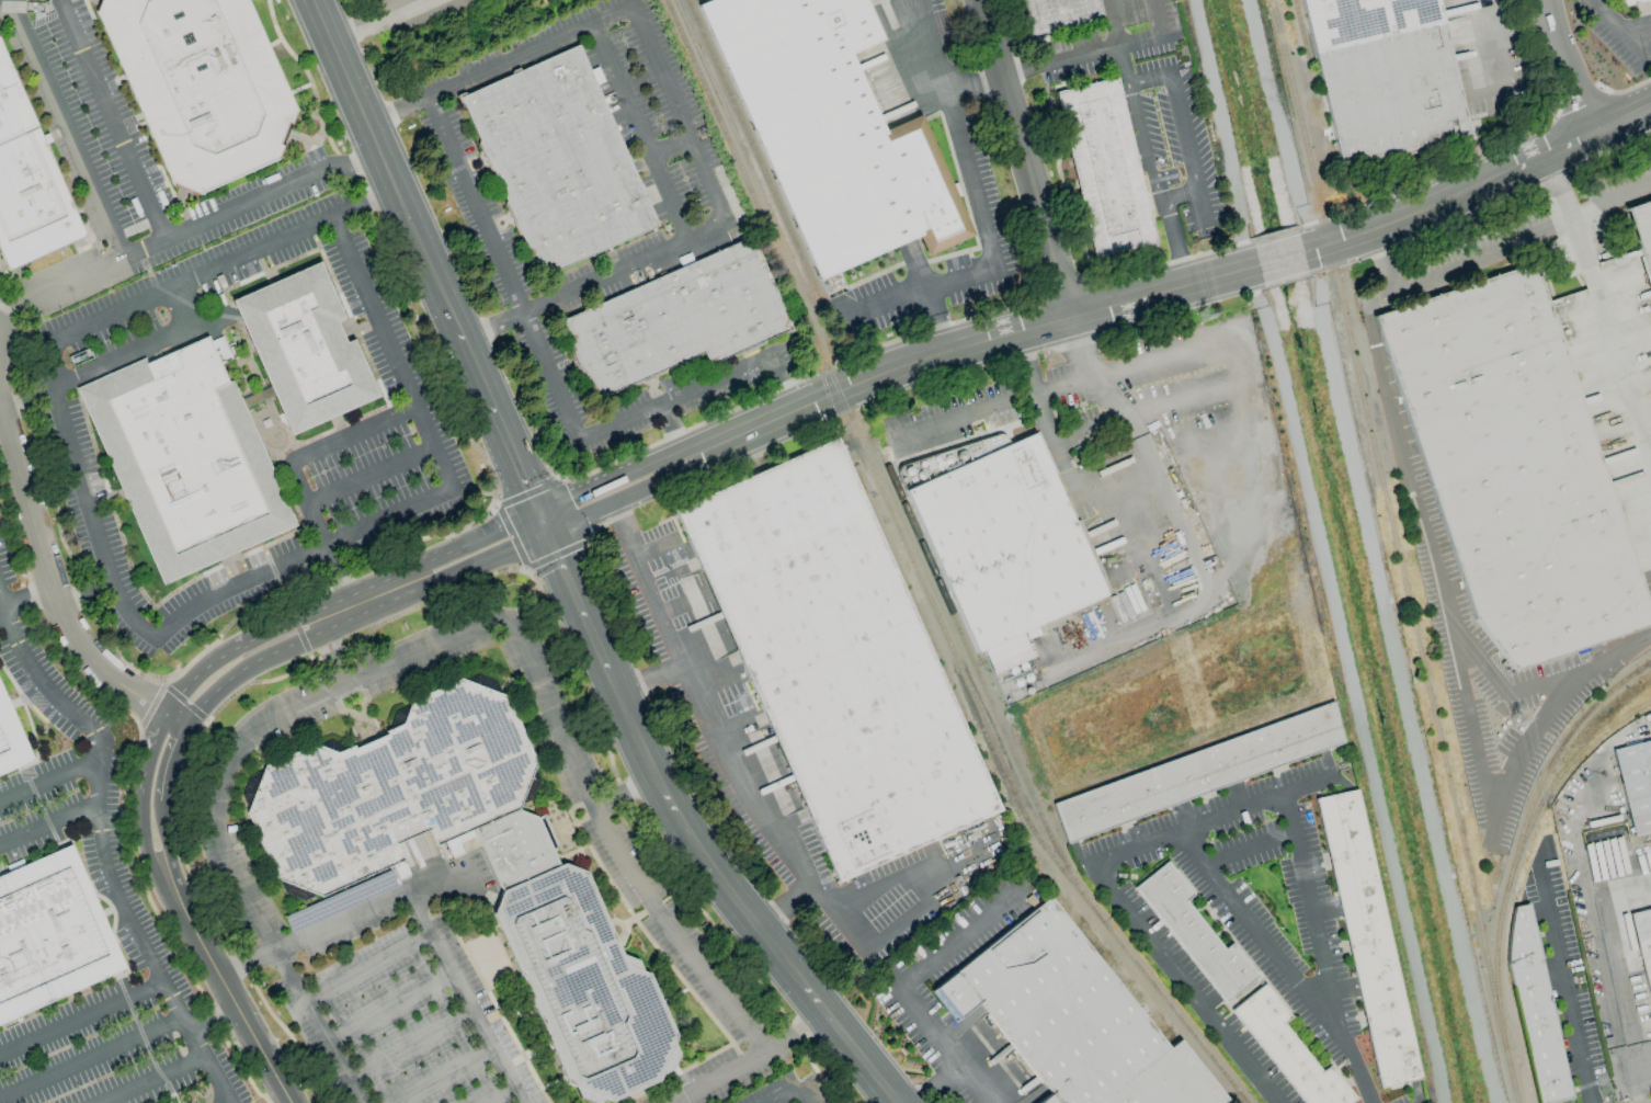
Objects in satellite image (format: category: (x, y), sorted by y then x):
road: (2, 1)
building: (1626, 2)
building: (1193, 7)
building: (1061, 18)
road: (1159, 19)
road: (384, 22)
road: (1618, 30)
railway: (1301, 38)
road: (1118, 41)
road: (1096, 50)
road: (1494, 55)
road: (501, 64)
road: (1017, 70)
road: (1564, 70)
building: (1385, 77)
road: (1149, 78)
road: (976, 83)
building: (207, 84)
road: (679, 113)
road: (112, 120)
road: (1275, 127)
road: (66, 129)
building: (830, 129)
road: (637, 132)
road: (1221, 133)
railway: (1303, 140)
road: (1143, 141)
road: (668, 147)
railway: (753, 150)
road: (1188, 152)
road: (1027, 157)
building: (565, 162)
road: (388, 163)
road: (967, 167)
building: (1105, 171)
building: (31, 173)
road: (1478, 186)
road: (1179, 196)
road: (191, 227)
building: (1641, 232)
road: (1172, 242)
road: (1513, 243)
road: (1279, 259)
road: (221, 264)
road: (623, 269)
road: (500, 270)
road: (926, 295)
road: (1599, 298)
road: (881, 303)
road: (183, 306)
power tower: (1203, 309)
building: (684, 323)
flagpole: (355, 325)
road: (493, 327)
road: (964, 344)
building: (304, 349)
road: (1244, 349)
road: (391, 350)
road: (122, 357)
road: (1384, 379)
road: (783, 382)
road: (675, 397)
road: (991, 407)
road: (499, 420)
road: (1092, 432)
road: (354, 433)
road: (672, 433)
road: (1060, 454)
building: (192, 457)
building: (1512, 468)
road: (372, 475)
road: (608, 479)
road: (81, 498)
road: (617, 500)
railway: (867, 500)
traffic signals: (536, 512)
road: (540, 522)
road: (619, 523)
road: (1217, 526)
road: (318, 530)
road: (1184, 532)
traffic signals: (546, 533)
building: (1005, 542)
road: (656, 545)
road: (441, 554)
road: (299, 555)
railway: (918, 573)
road: (451, 575)
road: (55, 595)
road: (25, 600)
road: (576, 601)
road: (681, 604)
road: (247, 644)
road: (1630, 645)
road: (261, 658)
building: (833, 659)
railway: (1422, 664)
road: (648, 676)
road: (37, 681)
road: (1500, 686)
railway: (987, 694)
power tower: (1515, 715)
building: (10, 743)
road: (1477, 747)
road: (149, 753)
road: (726, 757)
road: (166, 761)
building: (1198, 771)
railway: (1555, 777)
road: (45, 778)
building: (1636, 784)
road: (221, 795)
road: (47, 827)
road: (143, 830)
road: (163, 830)
railway: (1521, 831)
road: (614, 842)
road: (1248, 849)
road: (1621, 865)
building: (399, 869)
road: (911, 878)
building: (547, 885)
road: (733, 897)
building: (341, 900)
road: (781, 905)
road: (368, 906)
road: (1119, 909)
road: (1314, 926)
road: (137, 933)
building: (1194, 933)
road: (1255, 933)
building: (50, 936)
building: (1367, 939)
building: (1643, 943)
road: (1607, 946)
road: (1239, 950)
road: (248, 960)
road: (368, 968)
road: (1564, 981)
road: (224, 982)
road: (906, 983)
road: (1244, 993)
road: (463, 996)
road: (388, 1005)
road: (1225, 1007)
building: (1535, 1010)
road: (80, 1015)
building: (1081, 1017)
road: (809, 1023)
road: (411, 1048)
building: (1288, 1050)
road: (91, 1058)
road: (736, 1068)
road: (444, 1076)
railway: (1508, 1076)
road: (152, 1077)
road: (935, 1084)
road: (1415, 1092)
road: (225, 1095)
road: (499, 1095)
road: (787, 1095)
road: (806, 1095)
railway: (1241, 1096)

